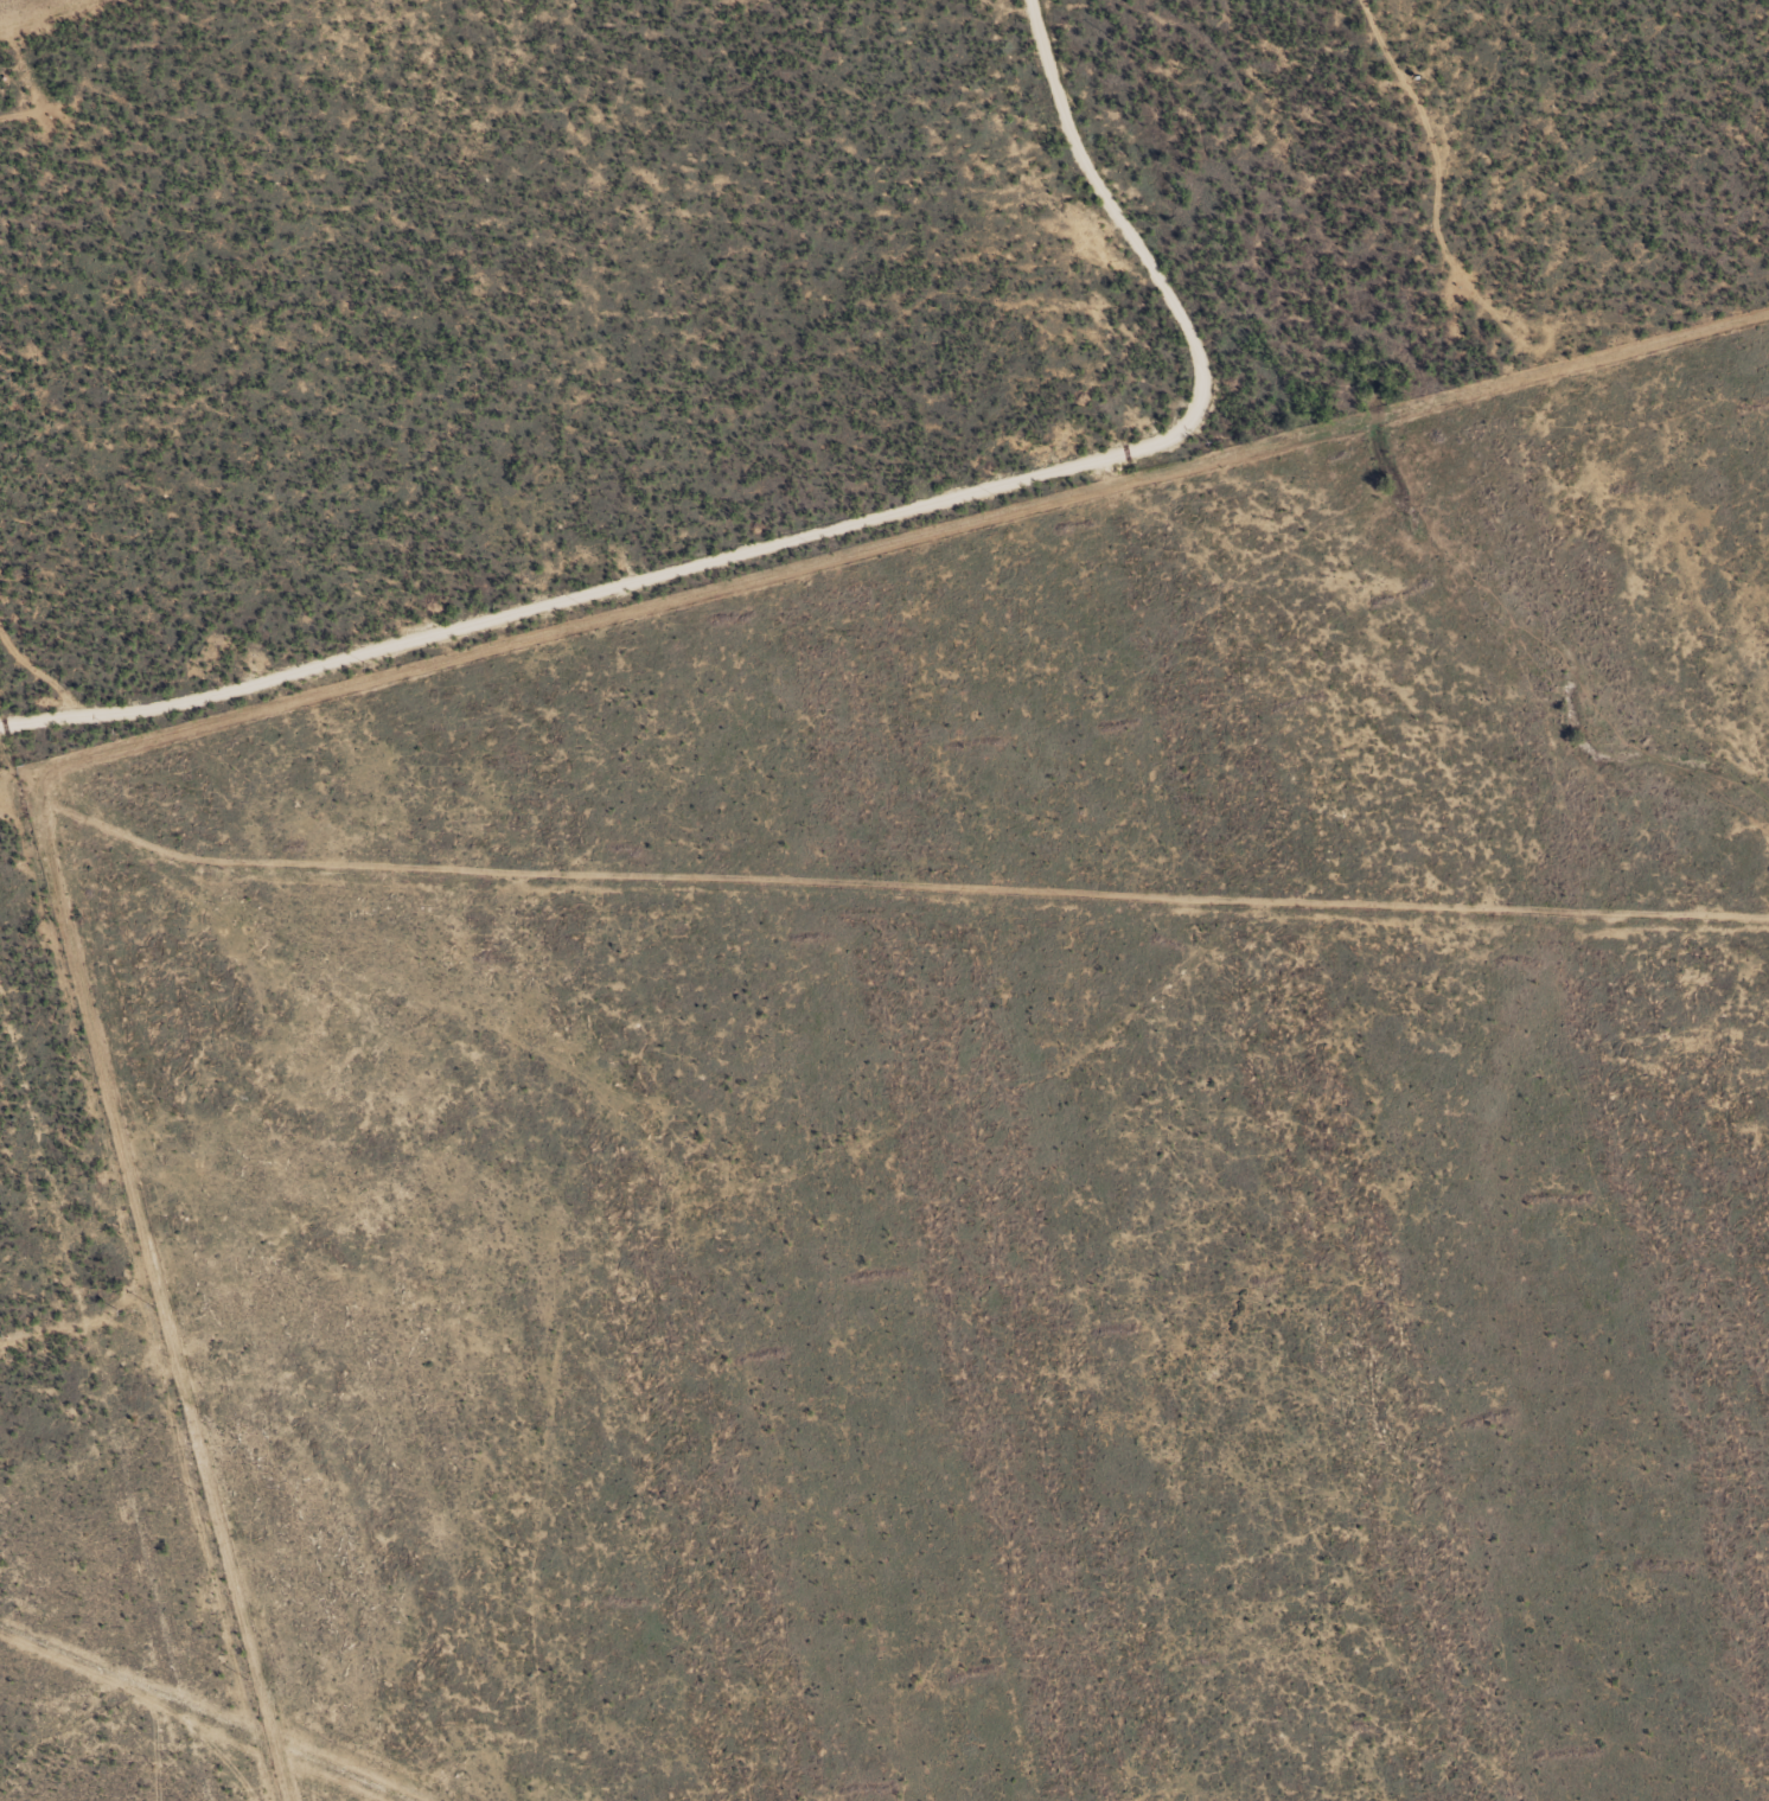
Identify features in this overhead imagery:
road: (877, 1118)

